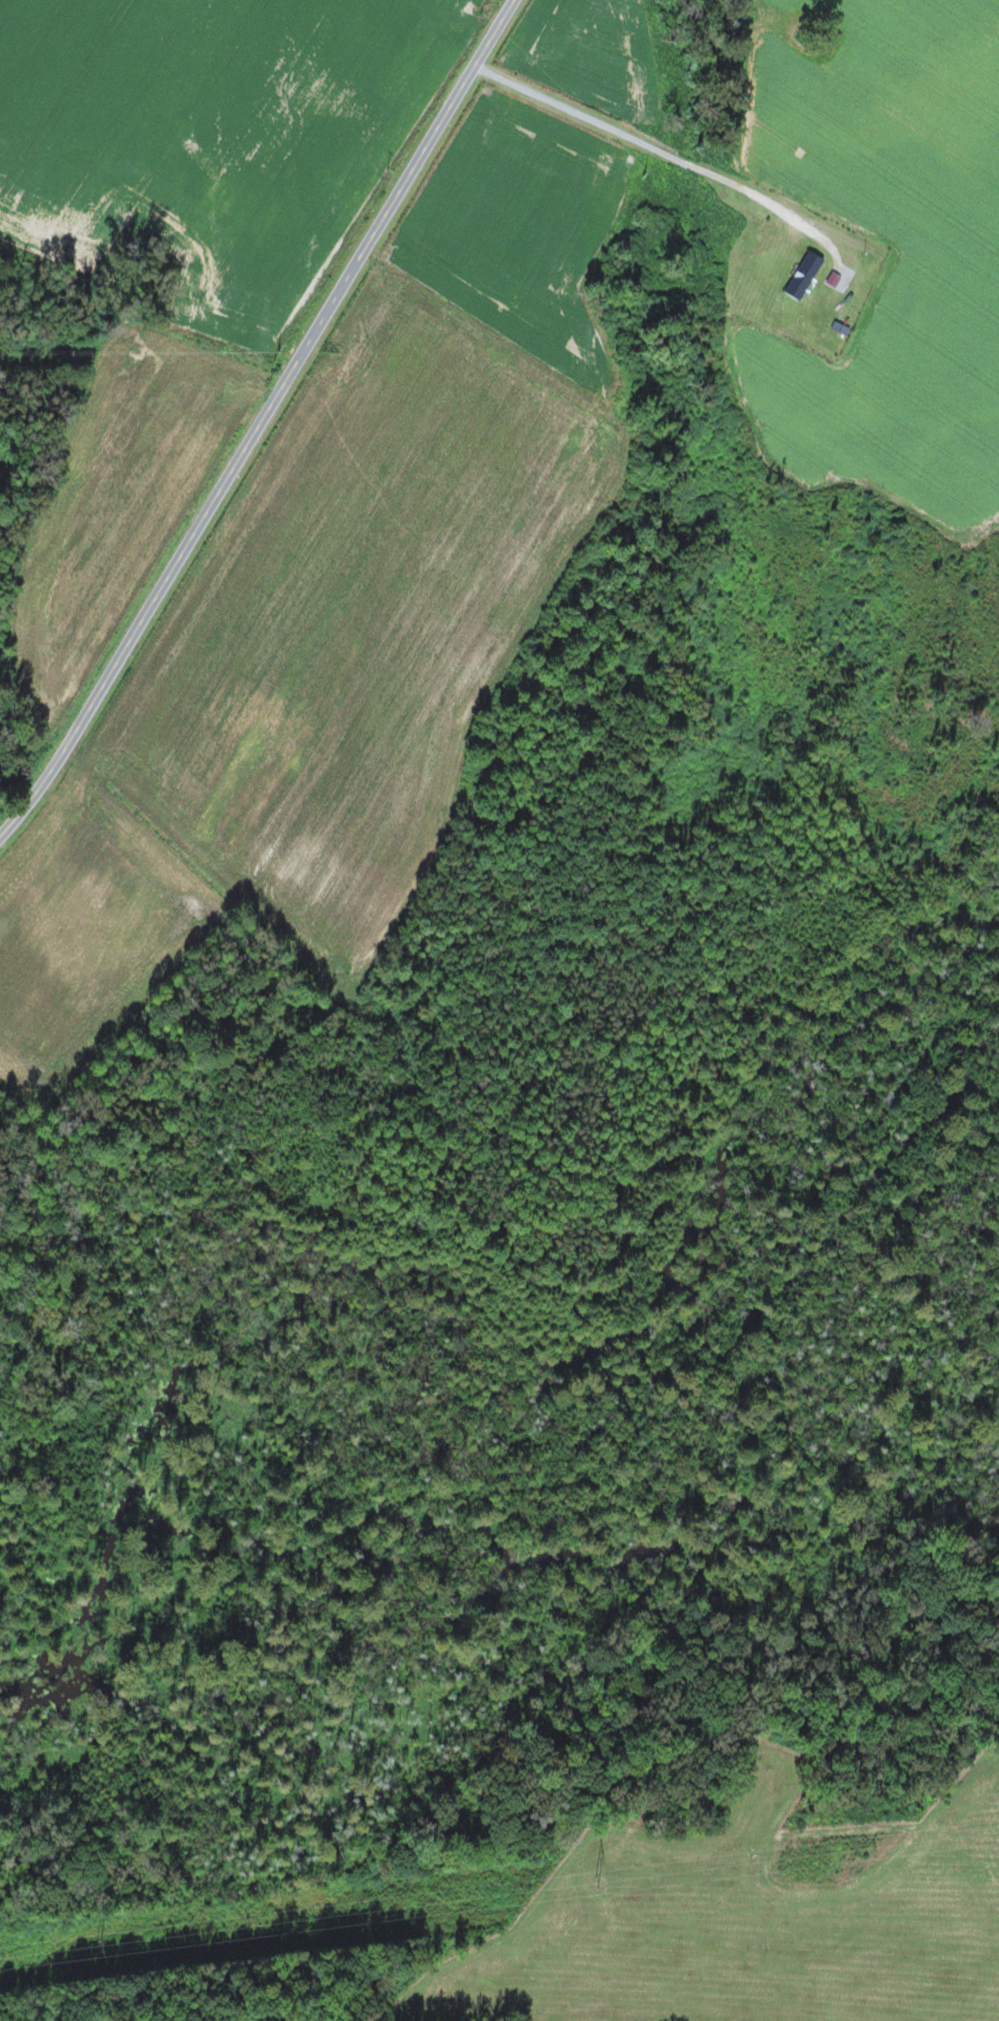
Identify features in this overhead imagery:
building: (804, 275)
road: (271, 437)
power tower: (595, 1883)
power tower: (96, 1947)

